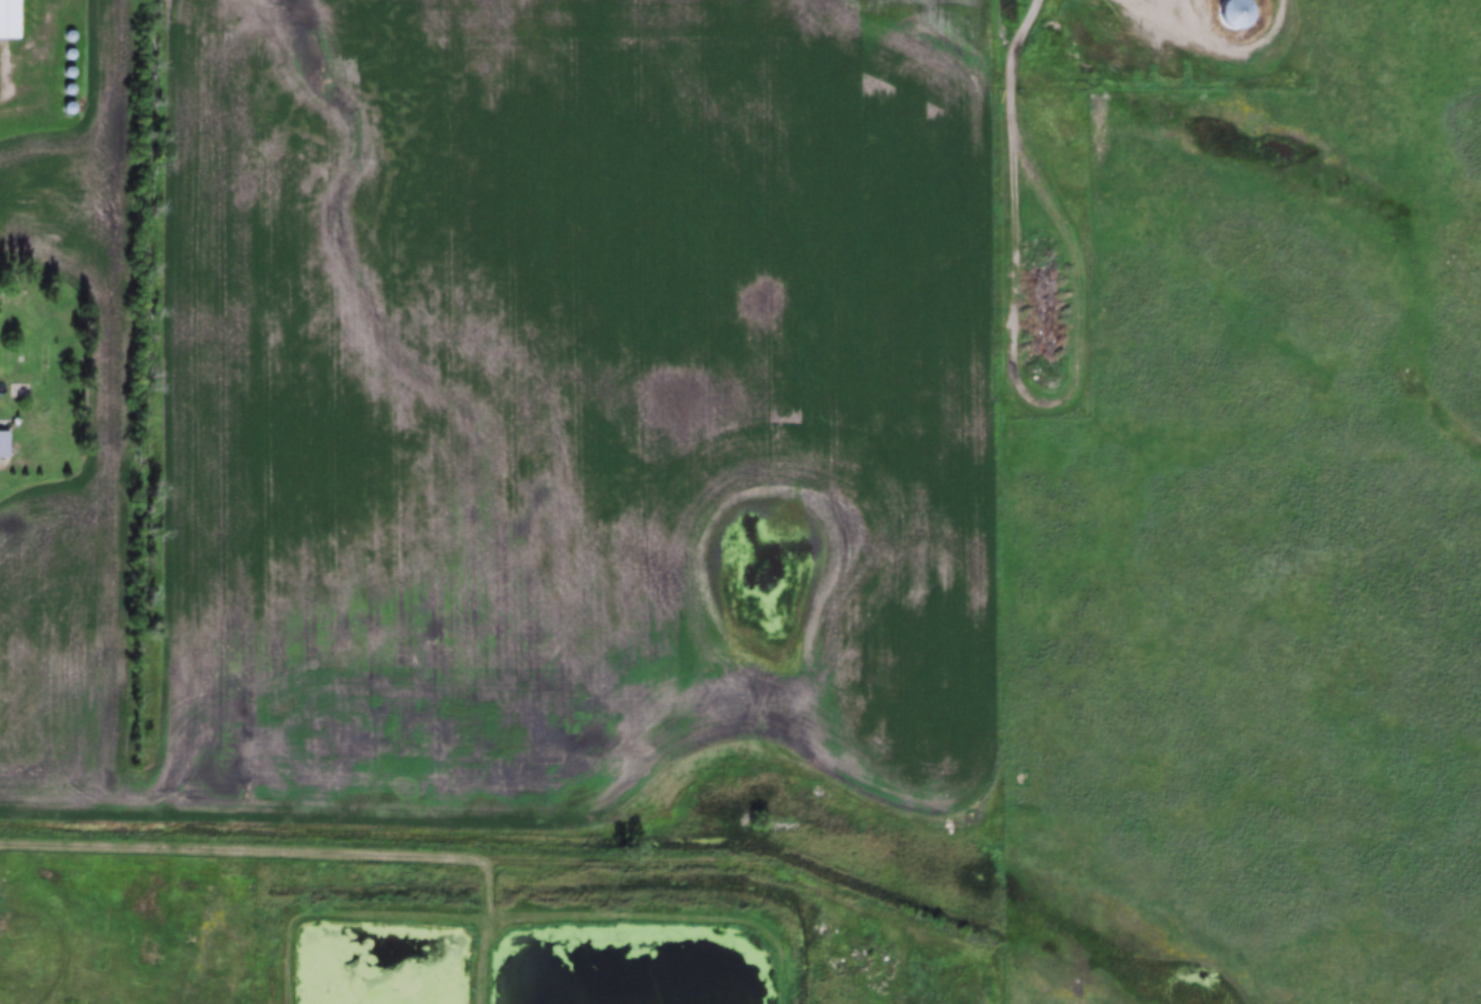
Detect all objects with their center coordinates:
building: (1237, 12)
silo: (1237, 12)
building: (11, 19)
building: (72, 35)
silo: (72, 35)
building: (71, 52)
silo: (71, 52)
building: (70, 71)
silo: (70, 71)
building: (70, 88)
silo: (70, 88)
building: (69, 105)
silo: (69, 105)
road: (2, 108)
building: (4, 442)
road: (976, 501)
road: (313, 849)
road: (679, 856)

